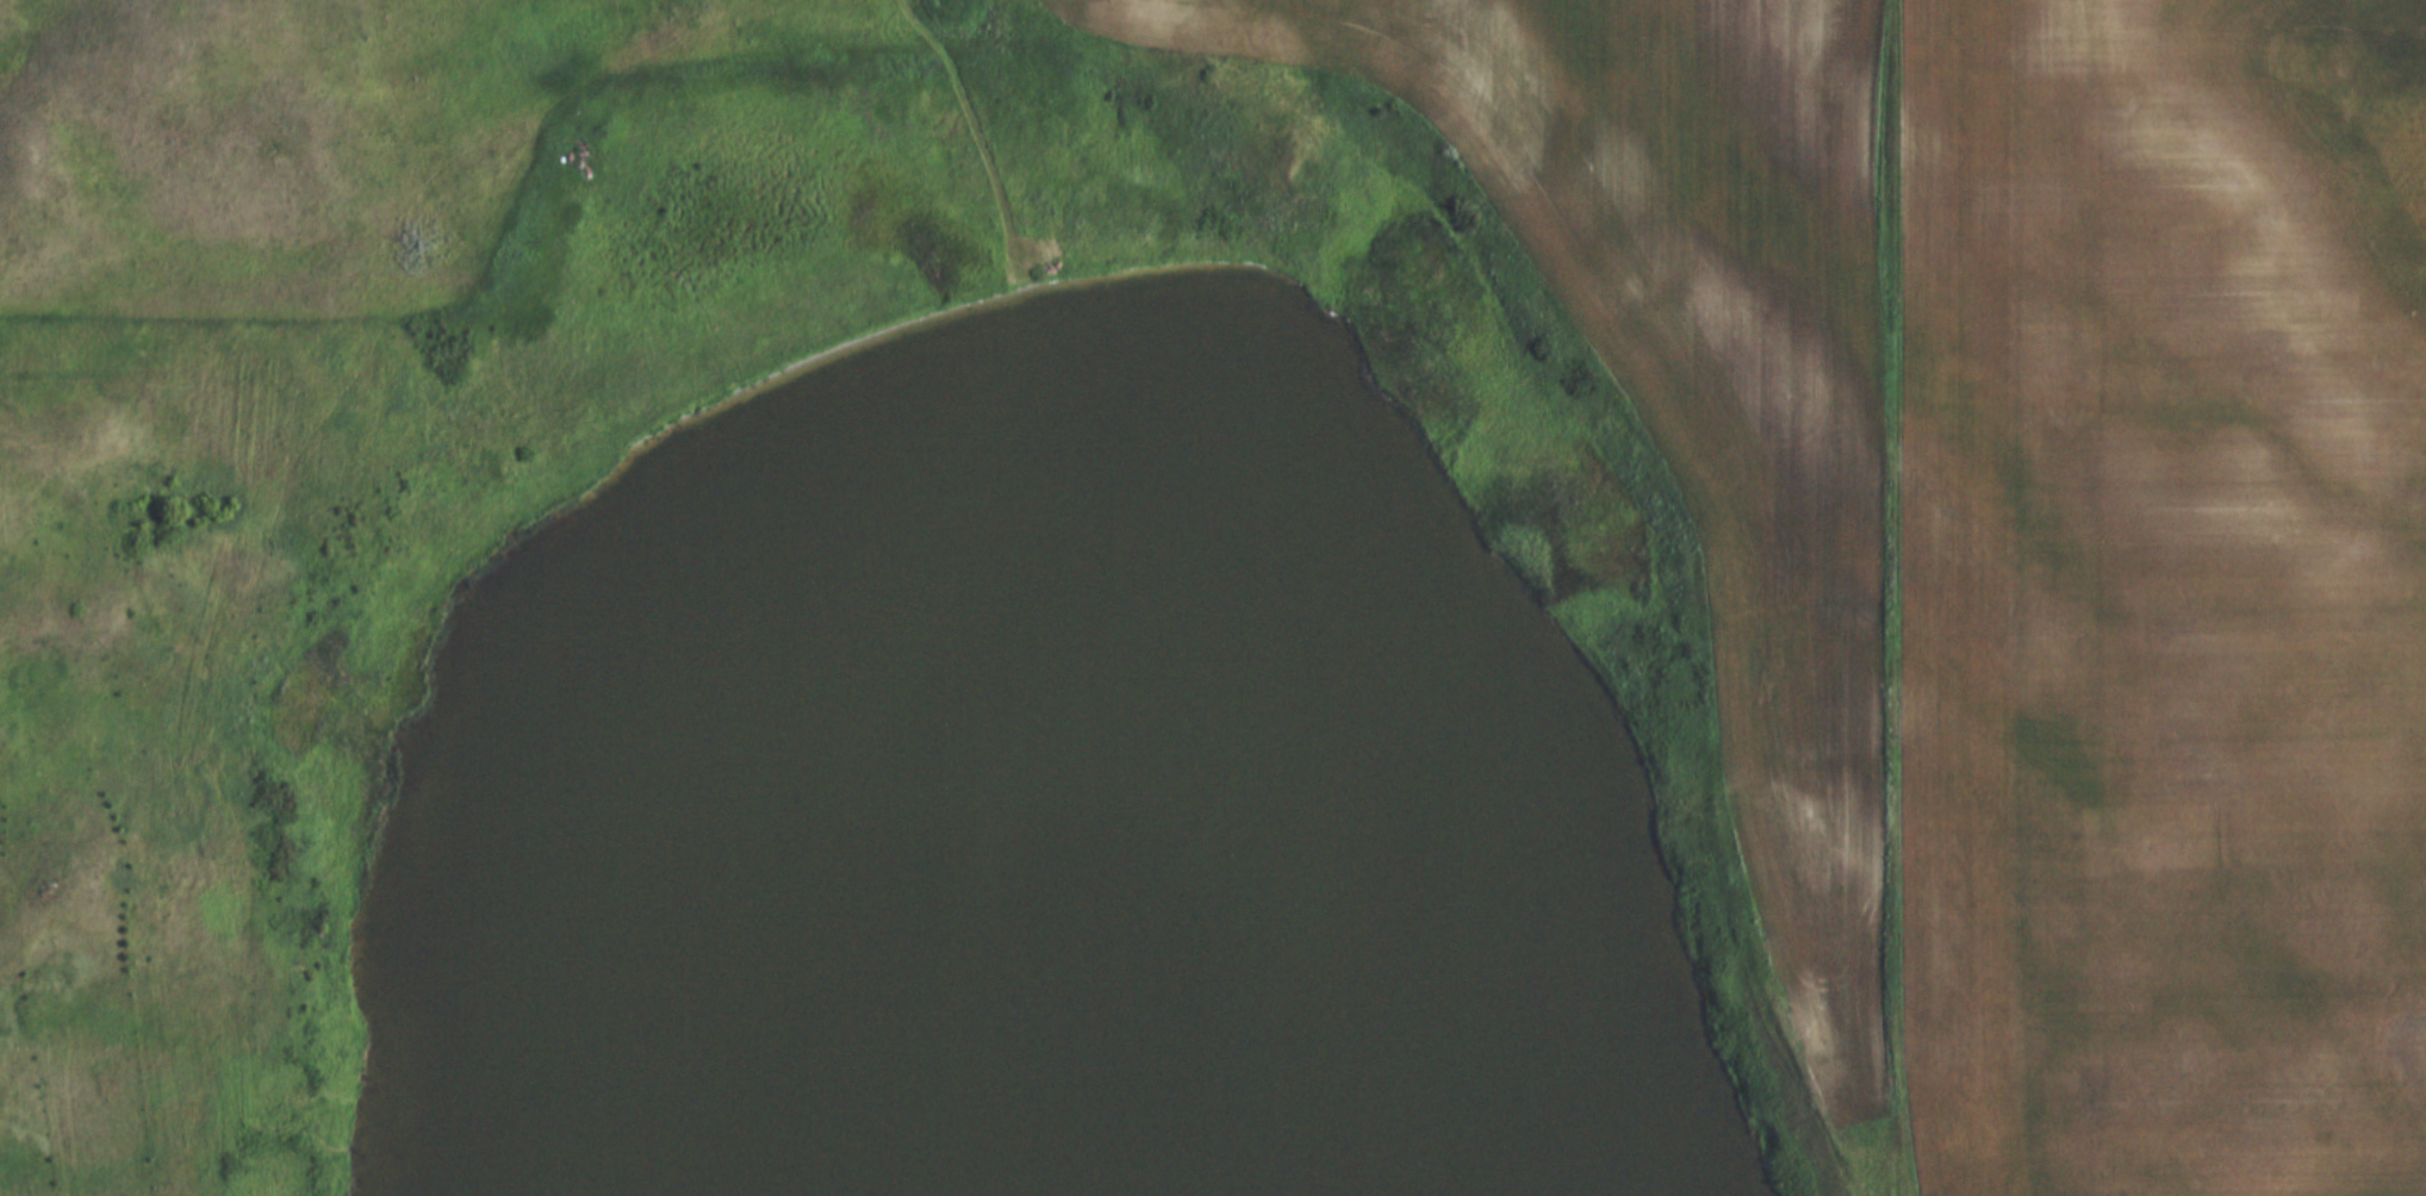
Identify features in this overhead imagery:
road: (1867, 598)

